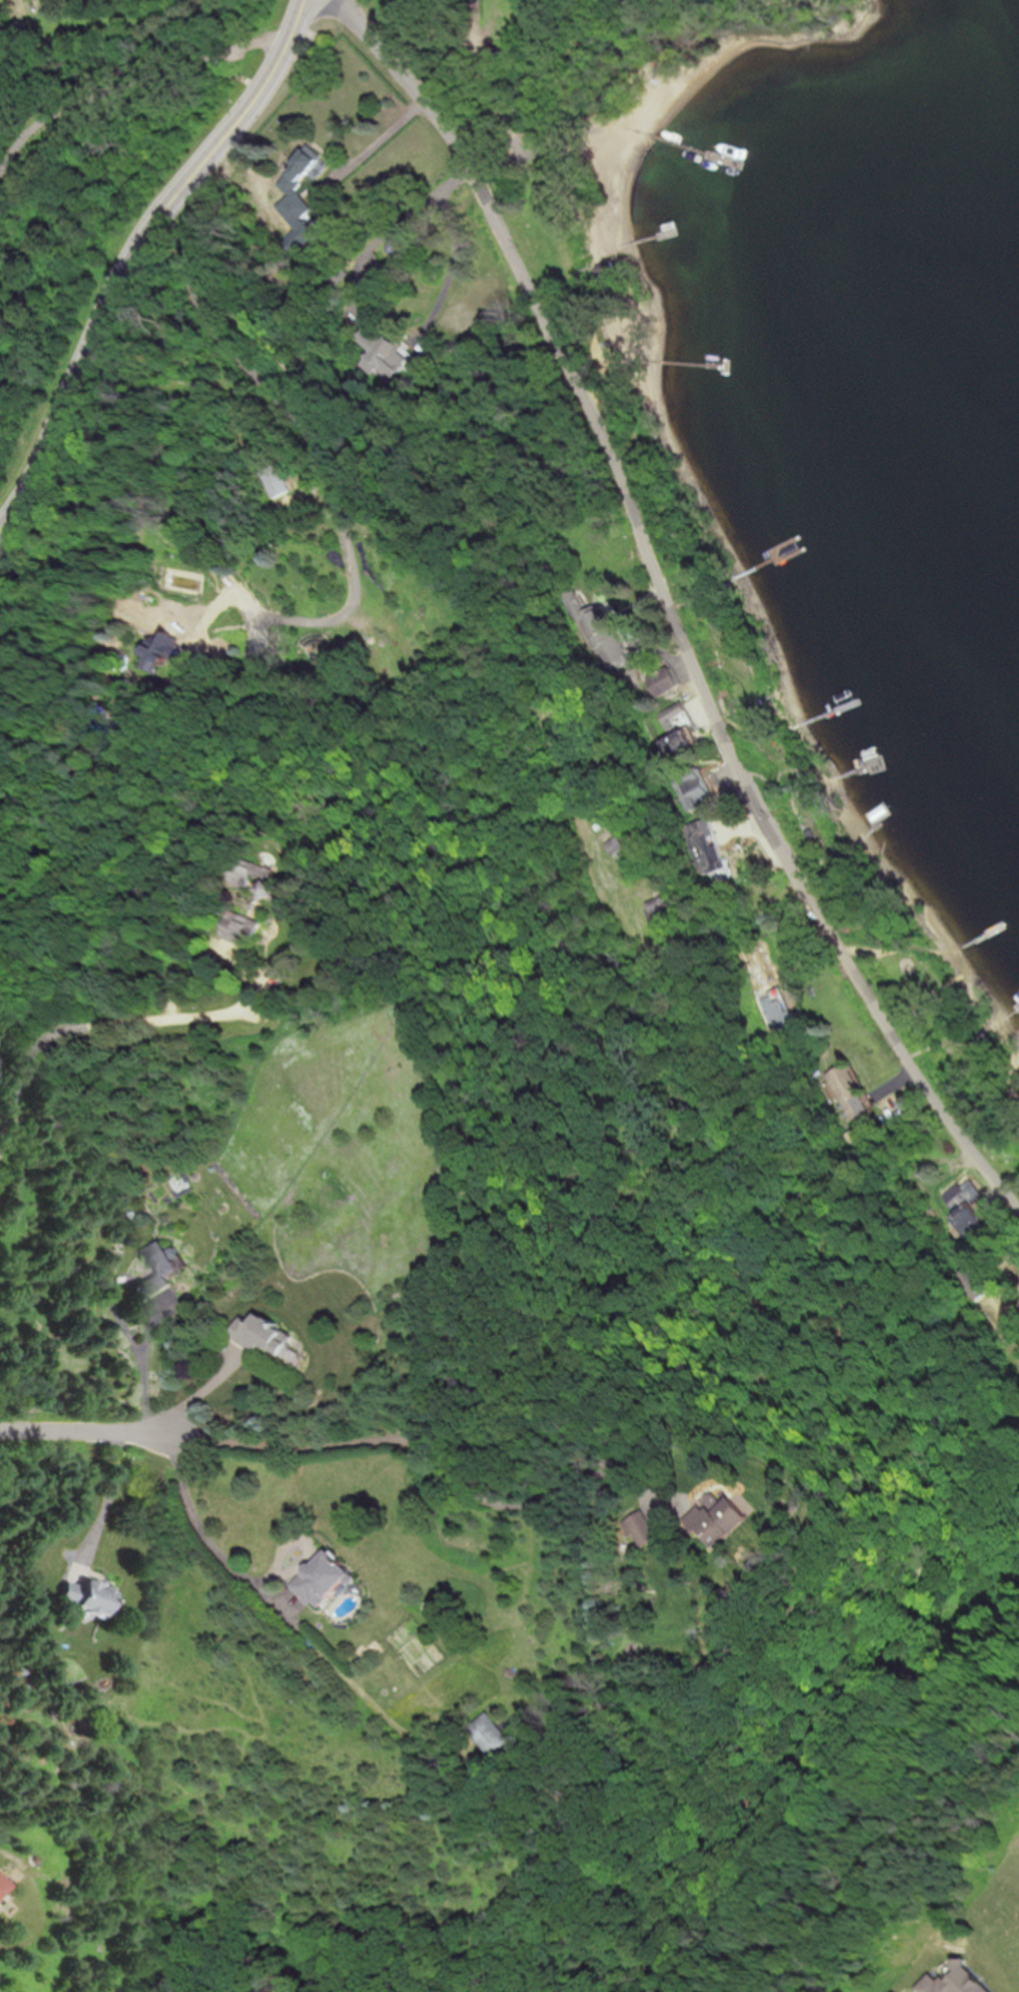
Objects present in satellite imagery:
road: (134, 82)
road: (377, 142)
building: (299, 171)
road: (130, 253)
road: (451, 279)
road: (308, 439)
building: (280, 481)
road: (671, 605)
building: (600, 633)
building: (165, 652)
building: (666, 680)
building: (677, 716)
building: (575, 734)
building: (697, 790)
building: (706, 846)
building: (255, 873)
building: (280, 893)
building: (665, 913)
building: (245, 929)
building: (777, 1009)
road: (113, 1025)
building: (850, 1091)
building: (966, 1208)
building: (159, 1268)
building: (975, 1283)
building: (266, 1334)
road: (149, 1371)
road: (90, 1432)
road: (449, 1457)
road: (109, 1505)
building: (723, 1521)
building: (643, 1528)
building: (326, 1579)
building: (85, 1598)
road: (293, 1618)
building: (492, 1736)
building: (2, 1886)

